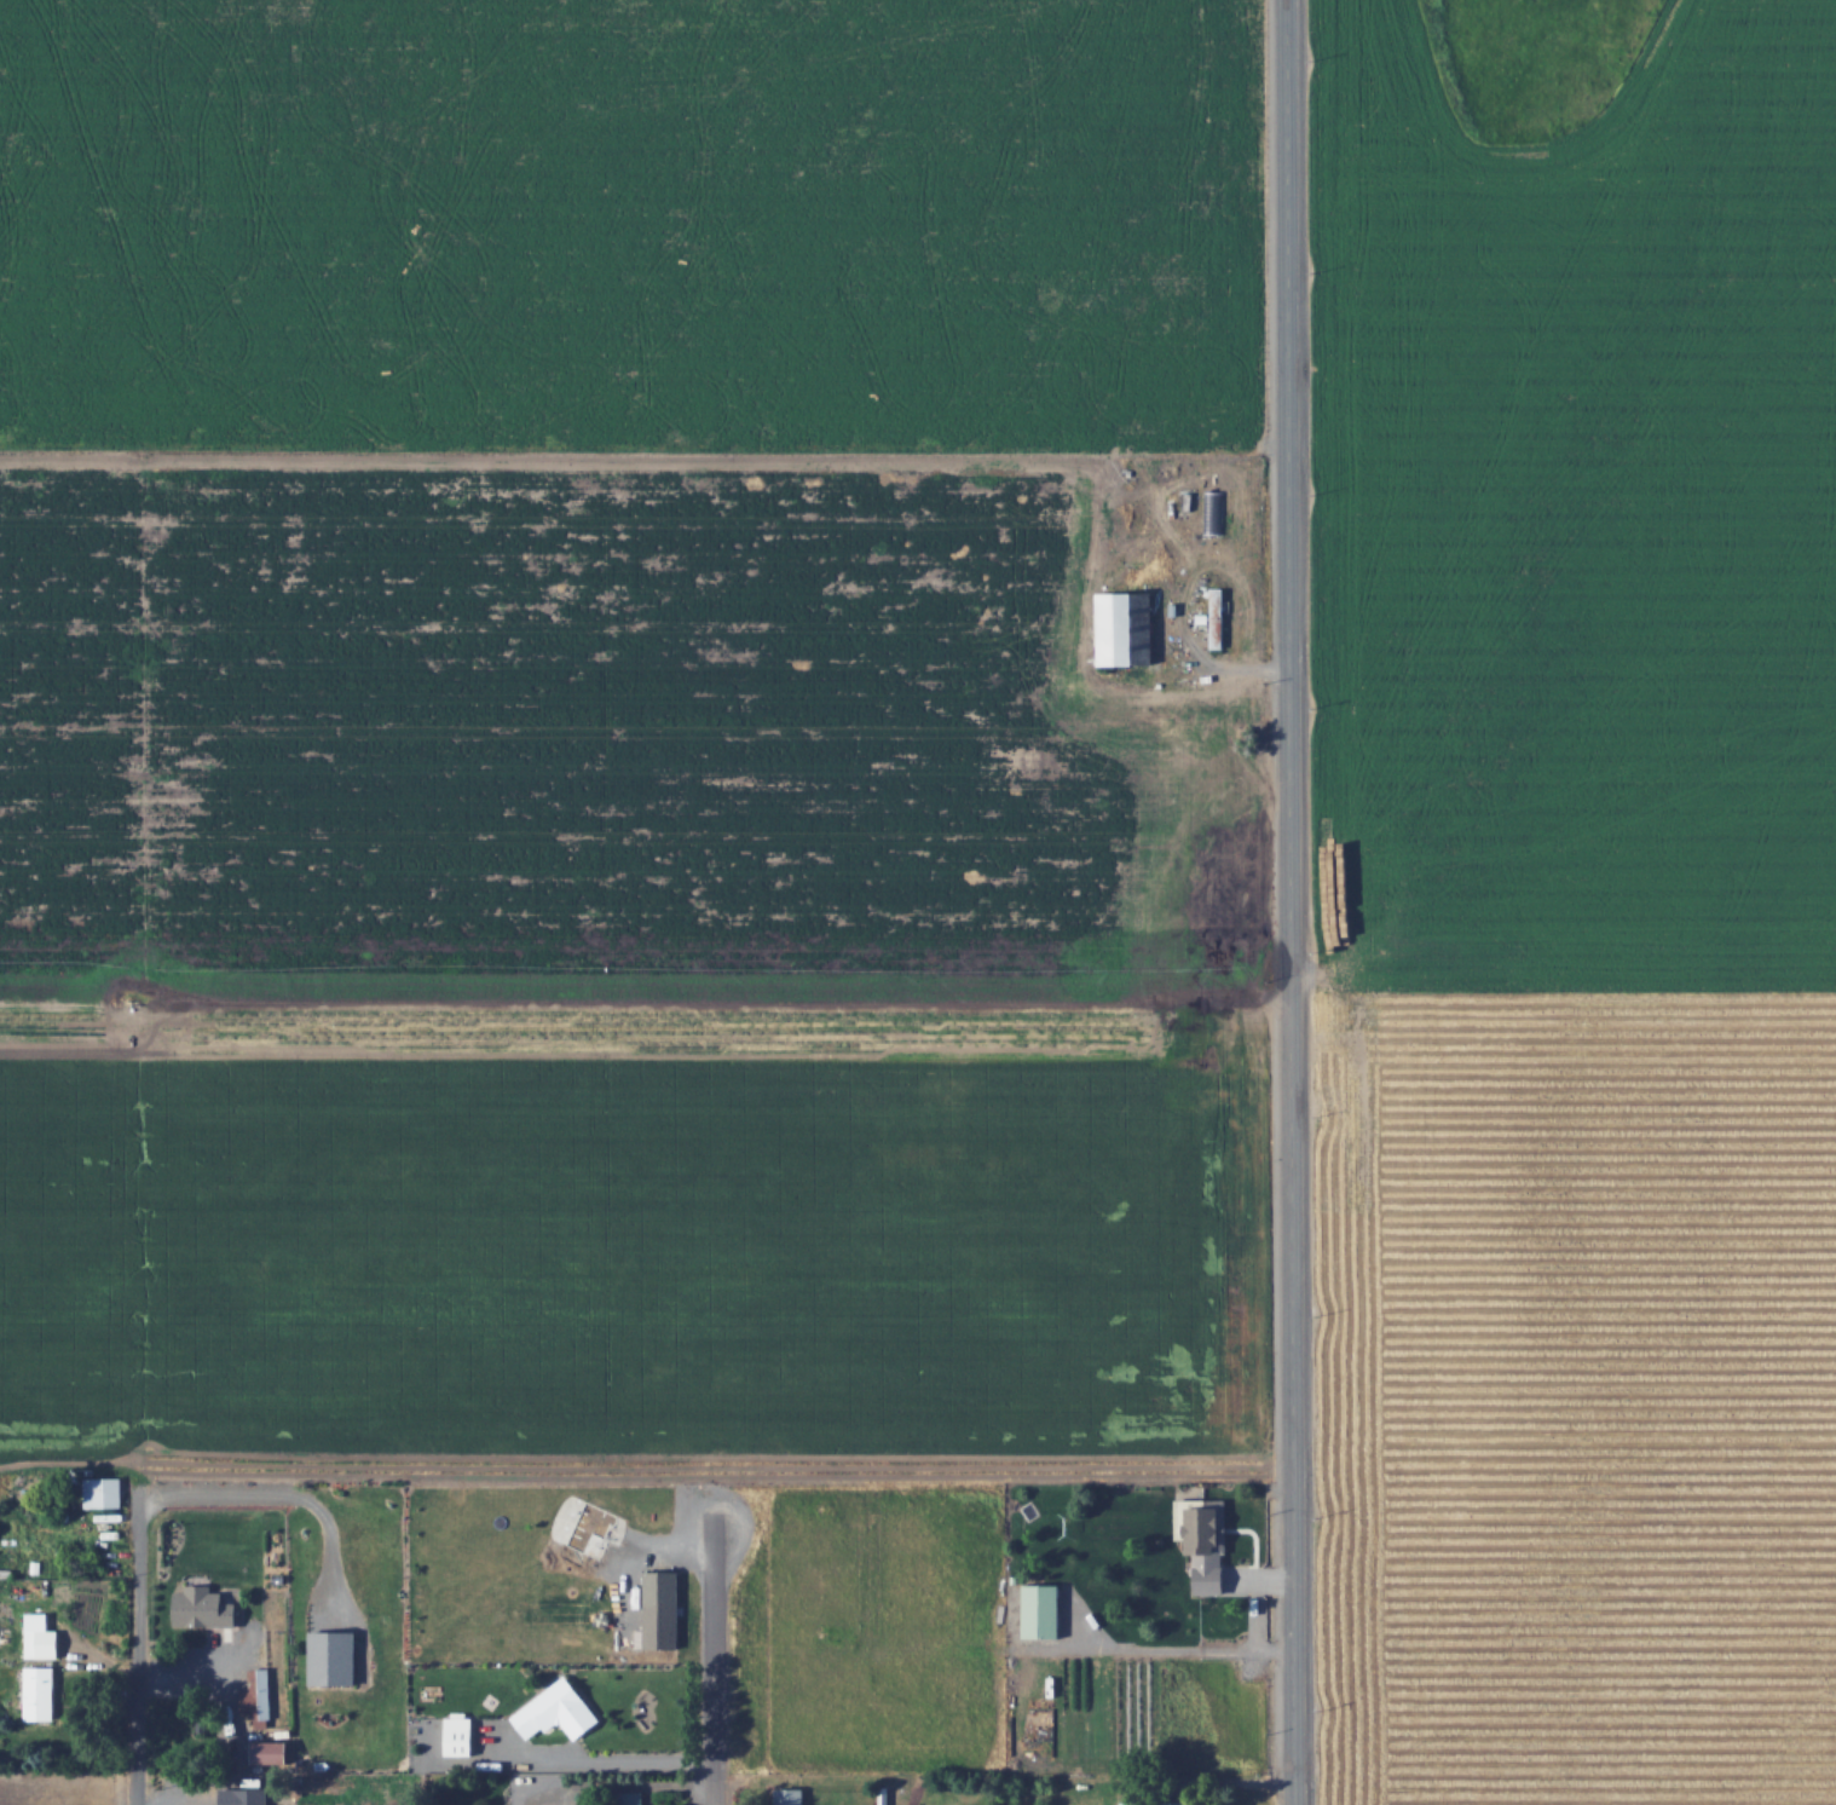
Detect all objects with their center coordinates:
building: (1212, 511)
building: (1218, 617)
building: (1122, 625)
road: (1288, 902)
crop: (647, 1230)
crop: (1564, 1394)
building: (104, 1492)
building: (1209, 1546)
building: (1041, 1611)
building: (662, 1625)
building: (42, 1644)
road: (135, 1650)
building: (233, 1650)
building: (333, 1657)
road: (715, 1667)
building: (41, 1692)
building: (260, 1694)
building: (287, 1708)
building: (461, 1735)
building: (792, 1795)
building: (243, 1797)
building: (634, 1798)
building: (1156, 1803)

